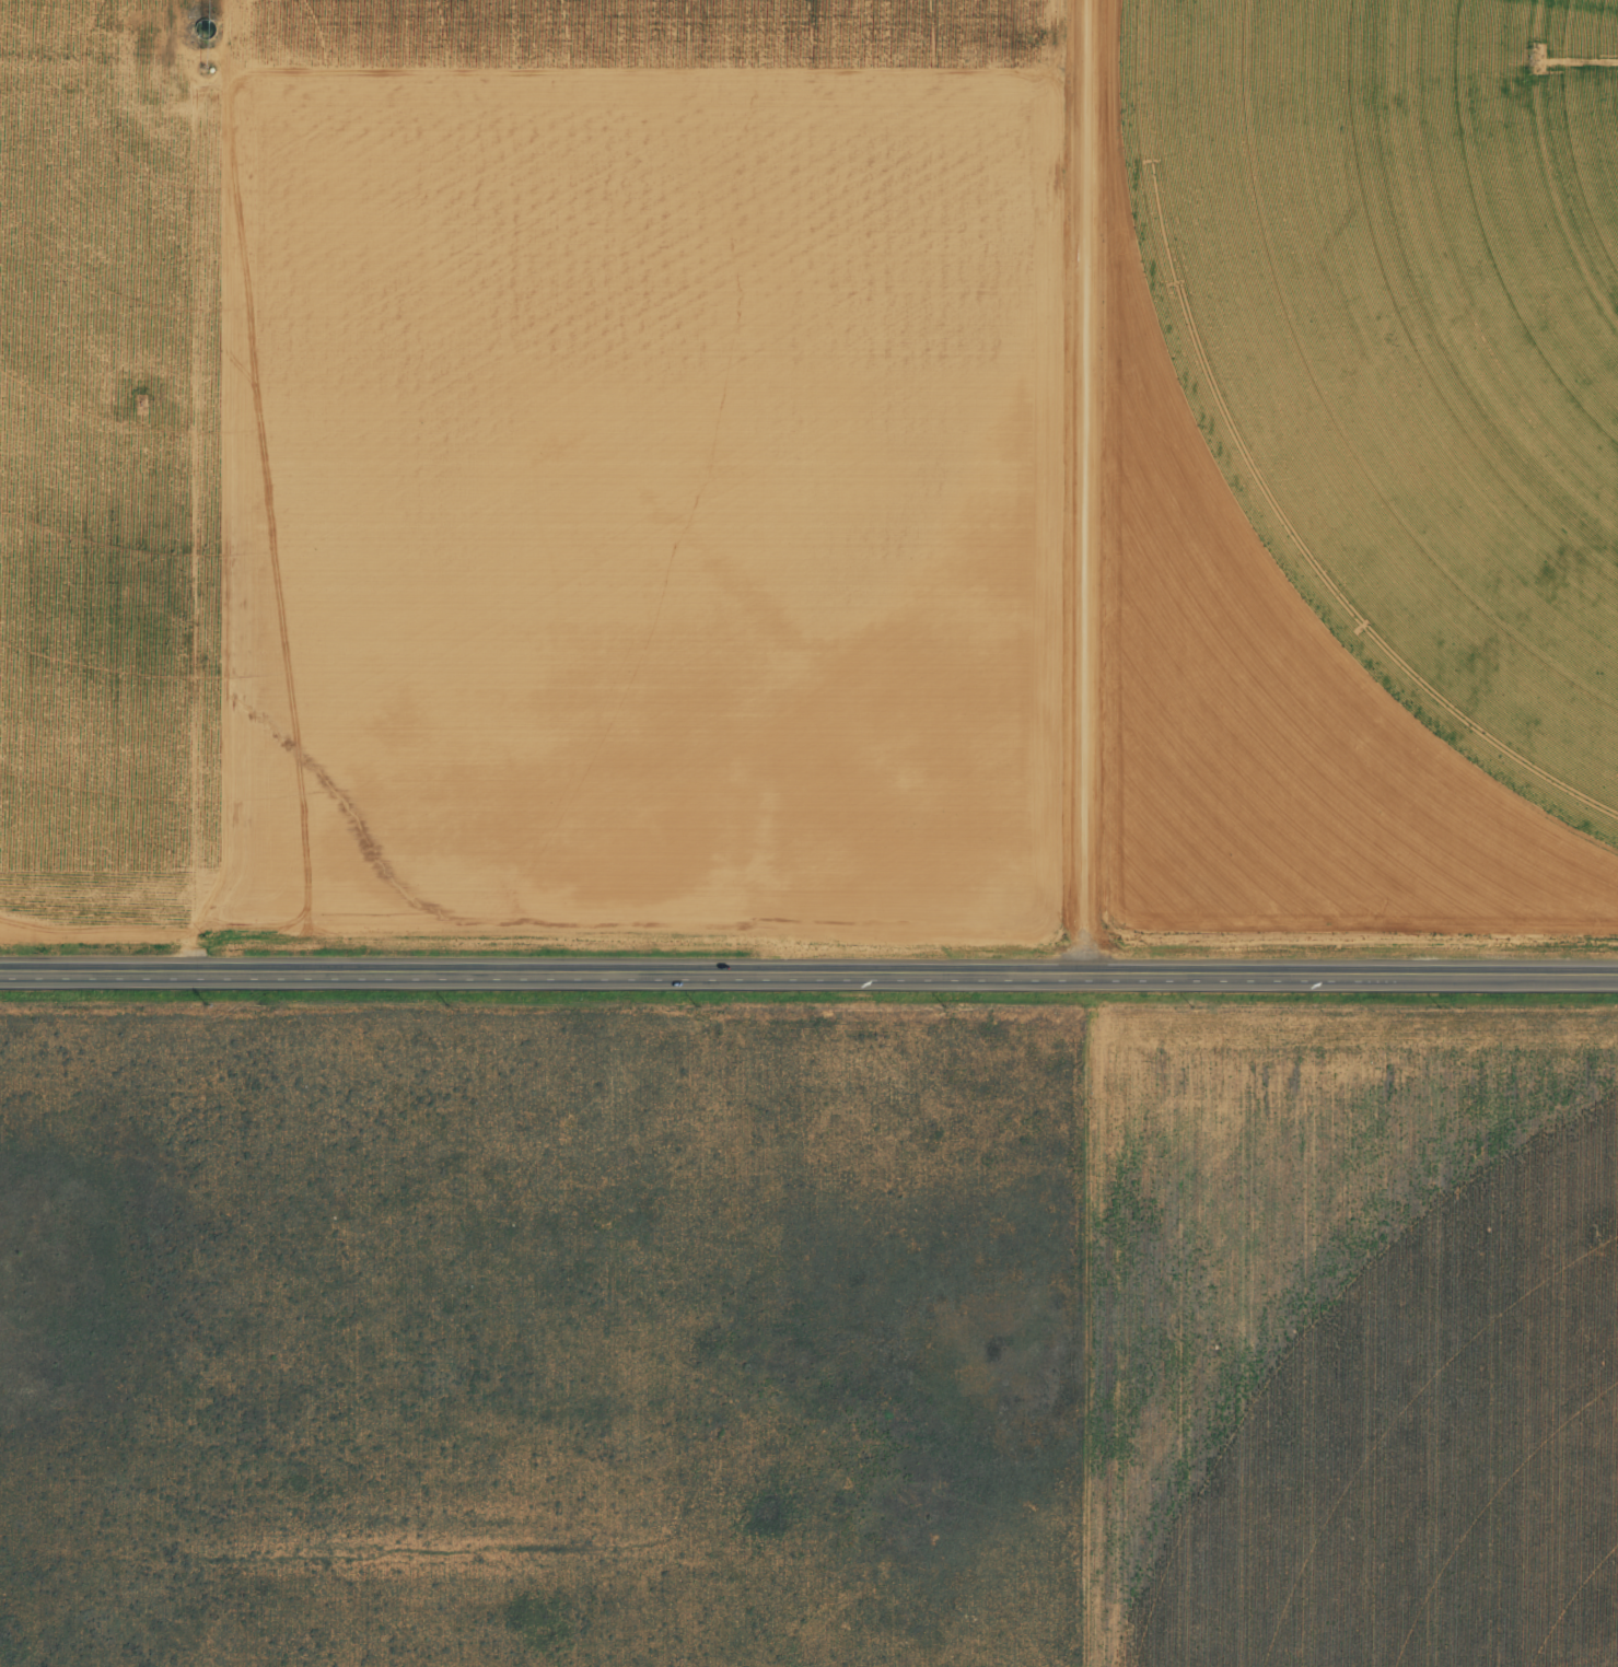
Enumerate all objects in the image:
road: (1084, 488)
road: (808, 975)

